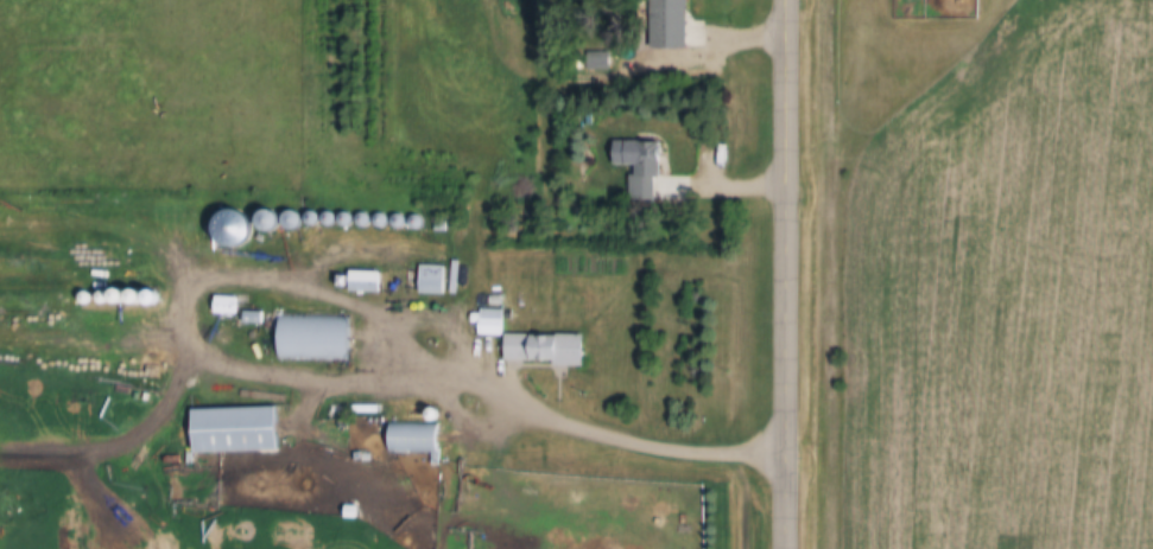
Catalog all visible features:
building: (667, 21)
building: (600, 57)
building: (645, 167)
road: (731, 184)
building: (313, 215)
silo: (313, 215)
building: (329, 216)
silo: (329, 216)
building: (347, 216)
silo: (347, 216)
building: (366, 216)
silo: (366, 216)
building: (267, 217)
silo: (267, 217)
building: (291, 217)
silo: (291, 217)
building: (382, 217)
silo: (382, 217)
building: (401, 217)
silo: (401, 217)
building: (419, 218)
silo: (419, 218)
building: (441, 222)
building: (236, 224)
silo: (236, 224)
road: (790, 274)
building: (432, 276)
building: (363, 277)
building: (224, 300)
building: (253, 313)
building: (492, 318)
building: (316, 333)
building: (543, 344)
road: (502, 381)
building: (233, 427)
building: (414, 435)
building: (354, 509)

